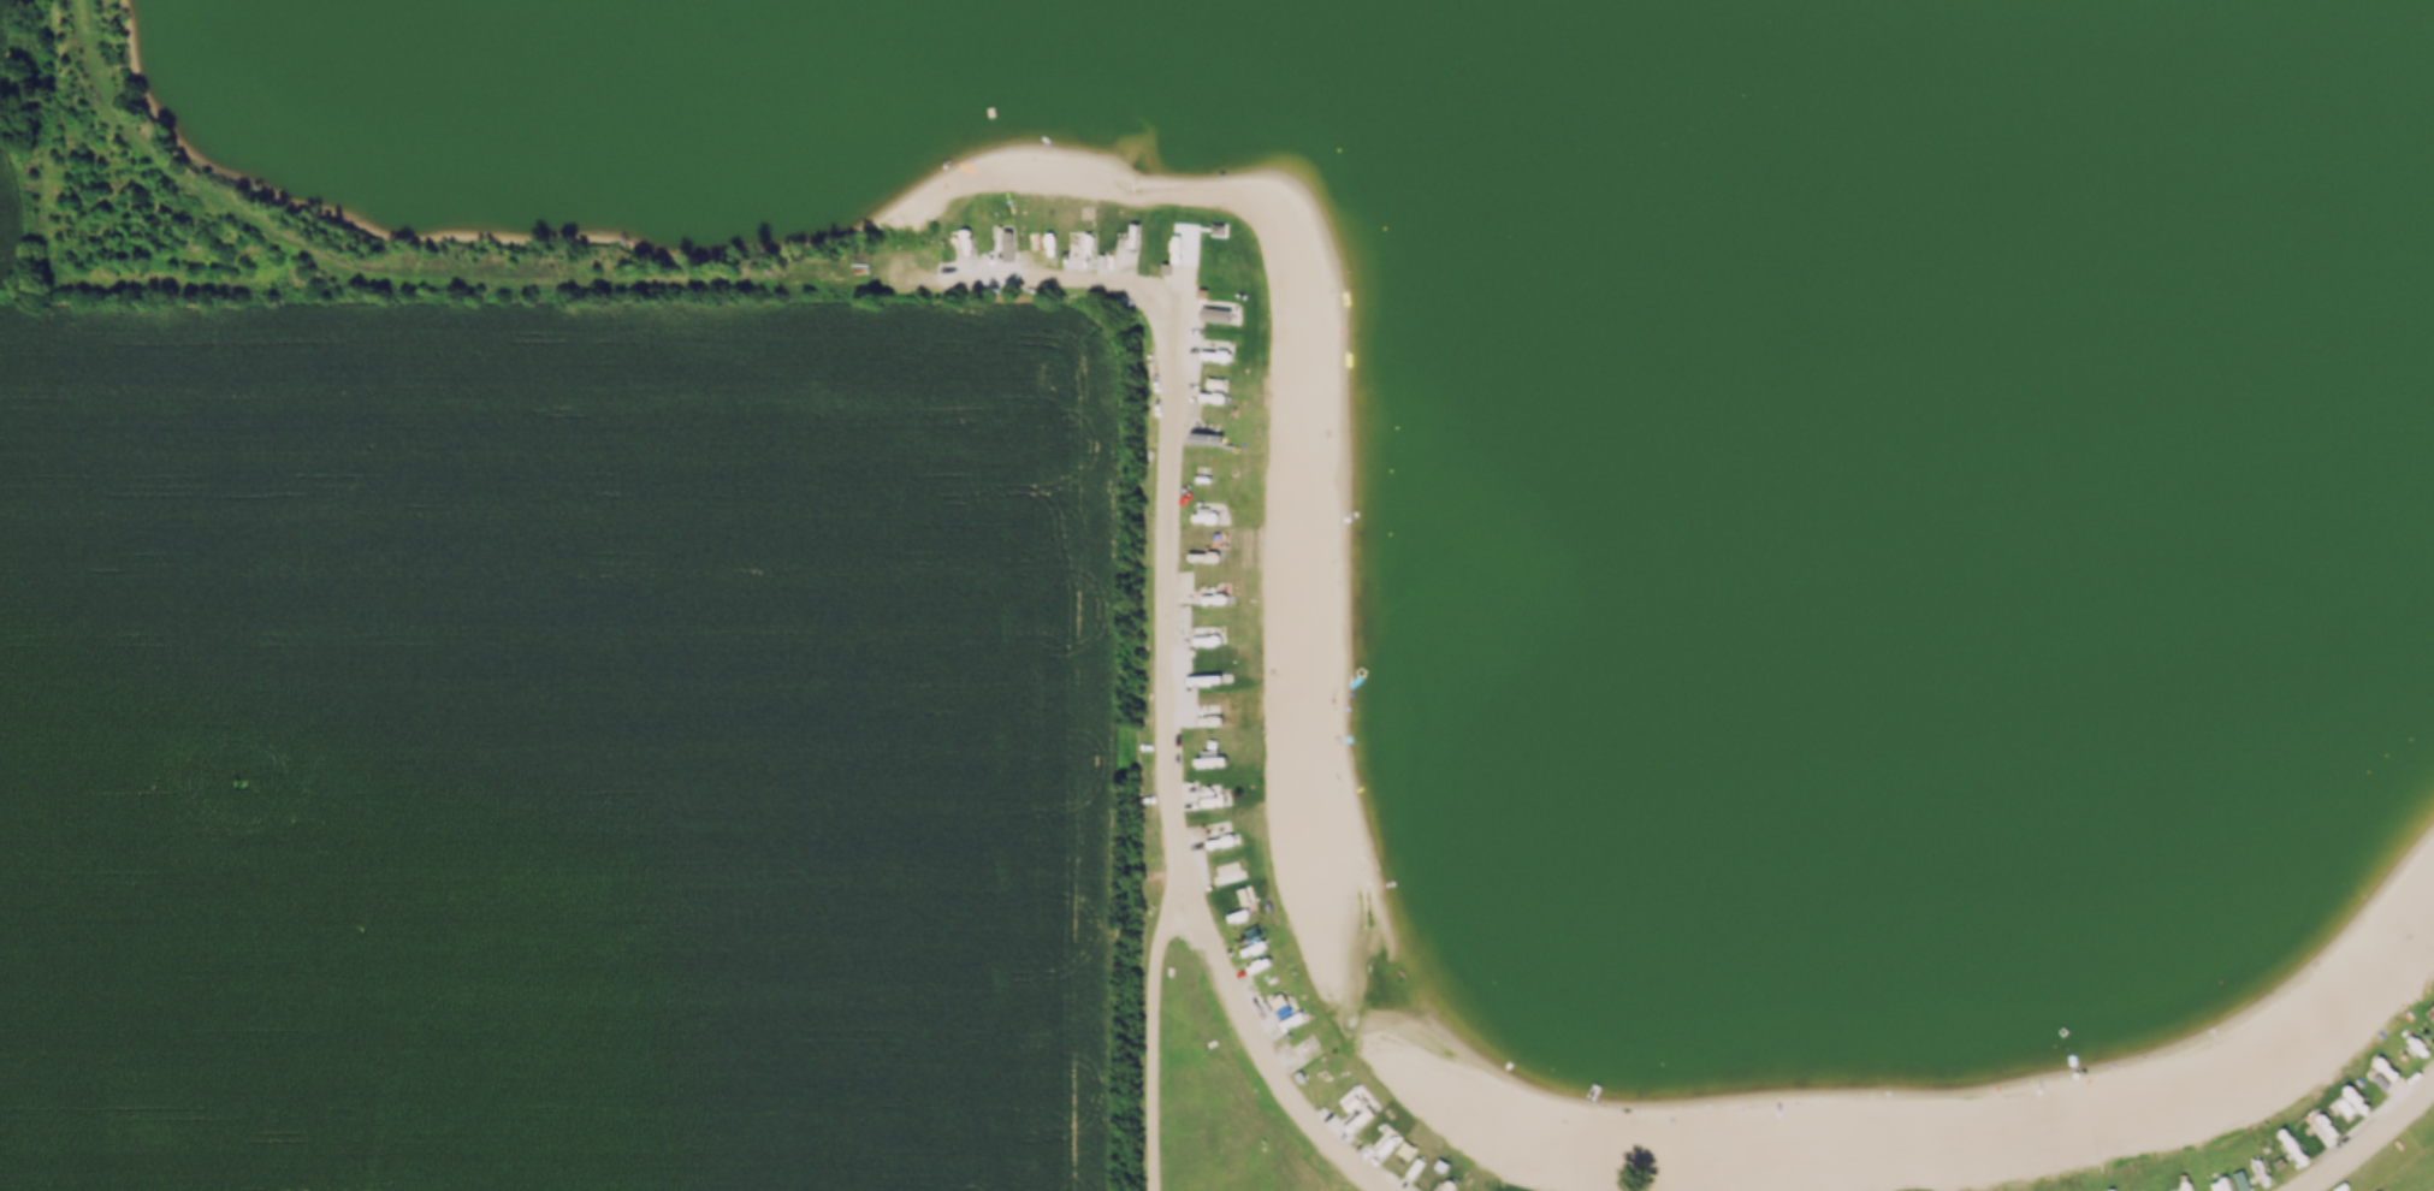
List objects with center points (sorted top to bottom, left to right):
road: (1161, 669)
road: (1145, 1036)
road: (2371, 1138)

